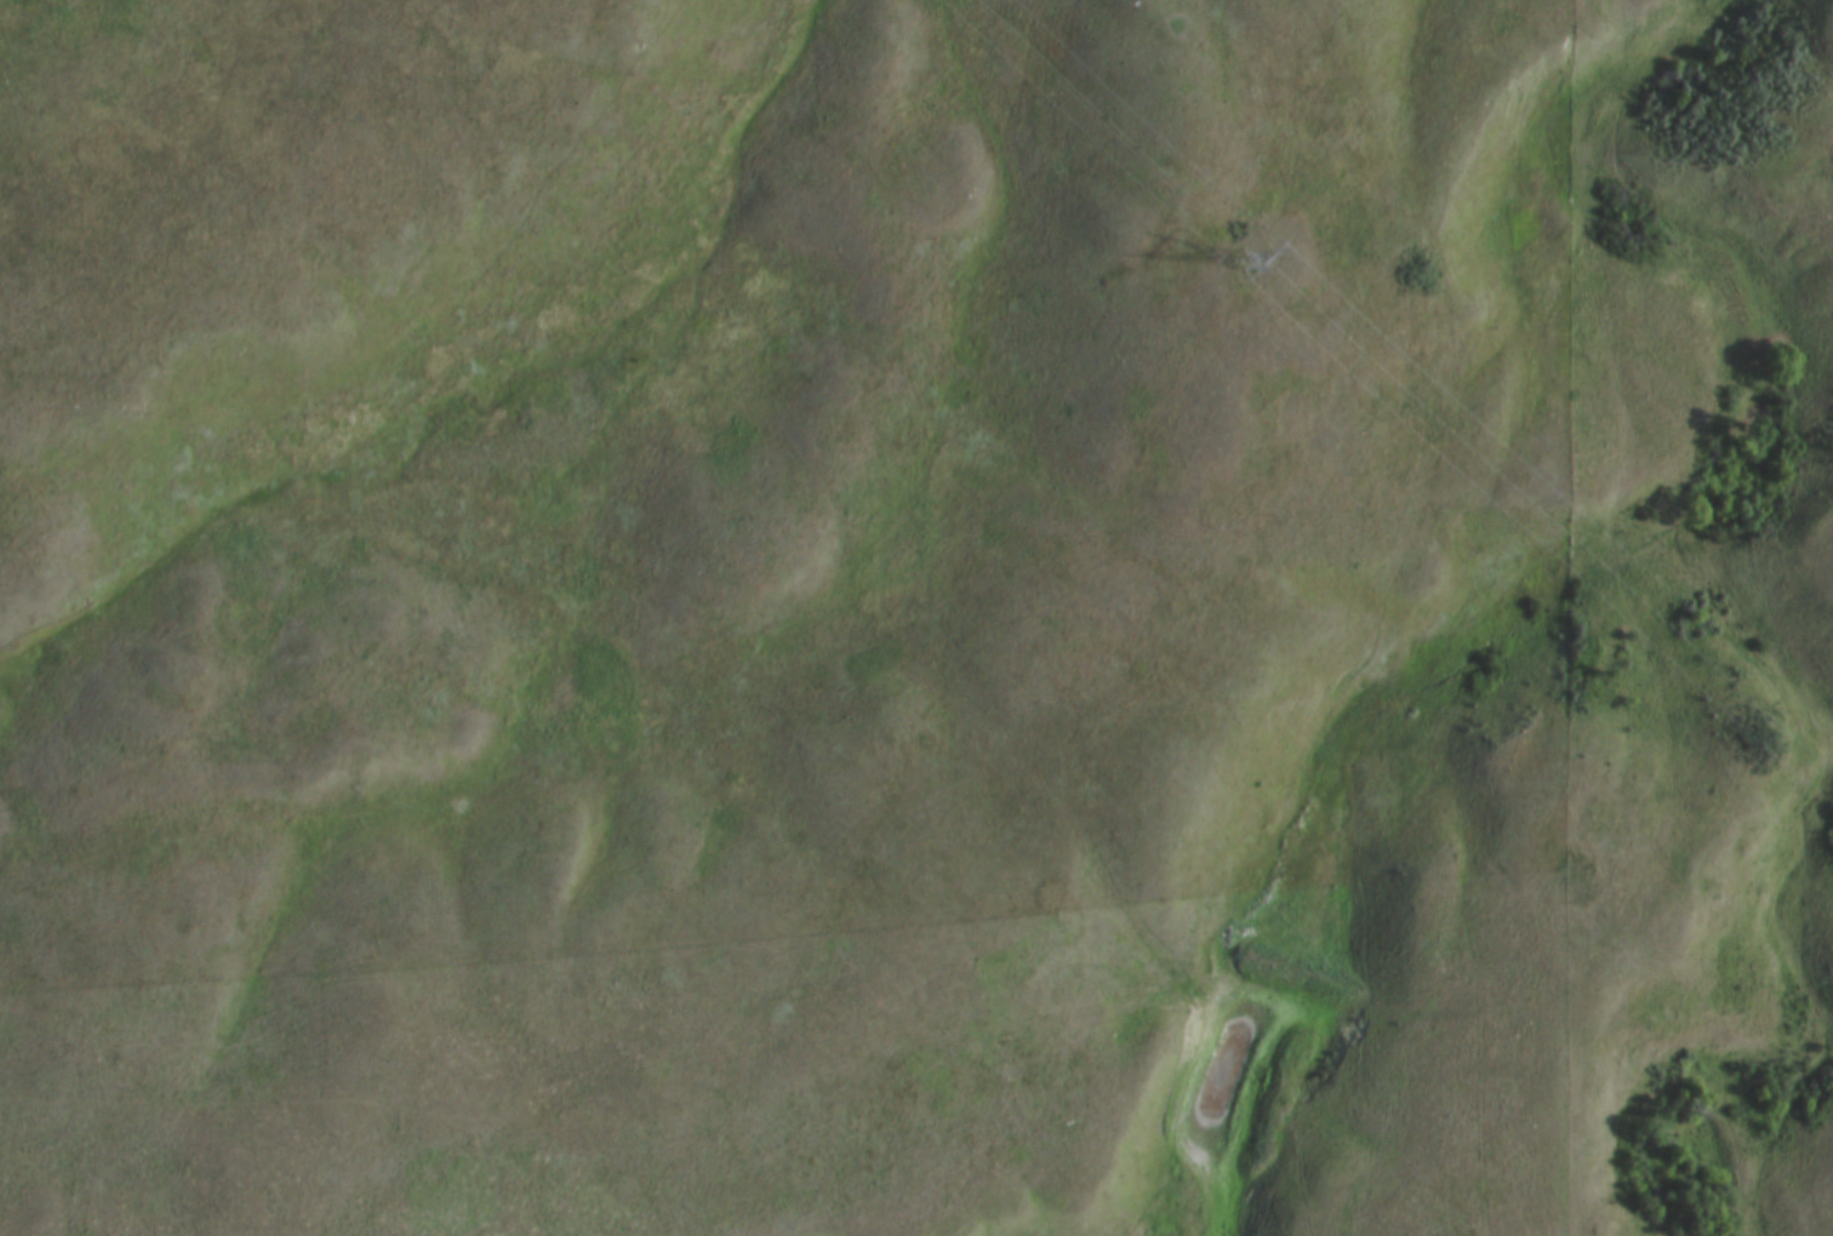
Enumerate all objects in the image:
power tower: (1245, 263)

